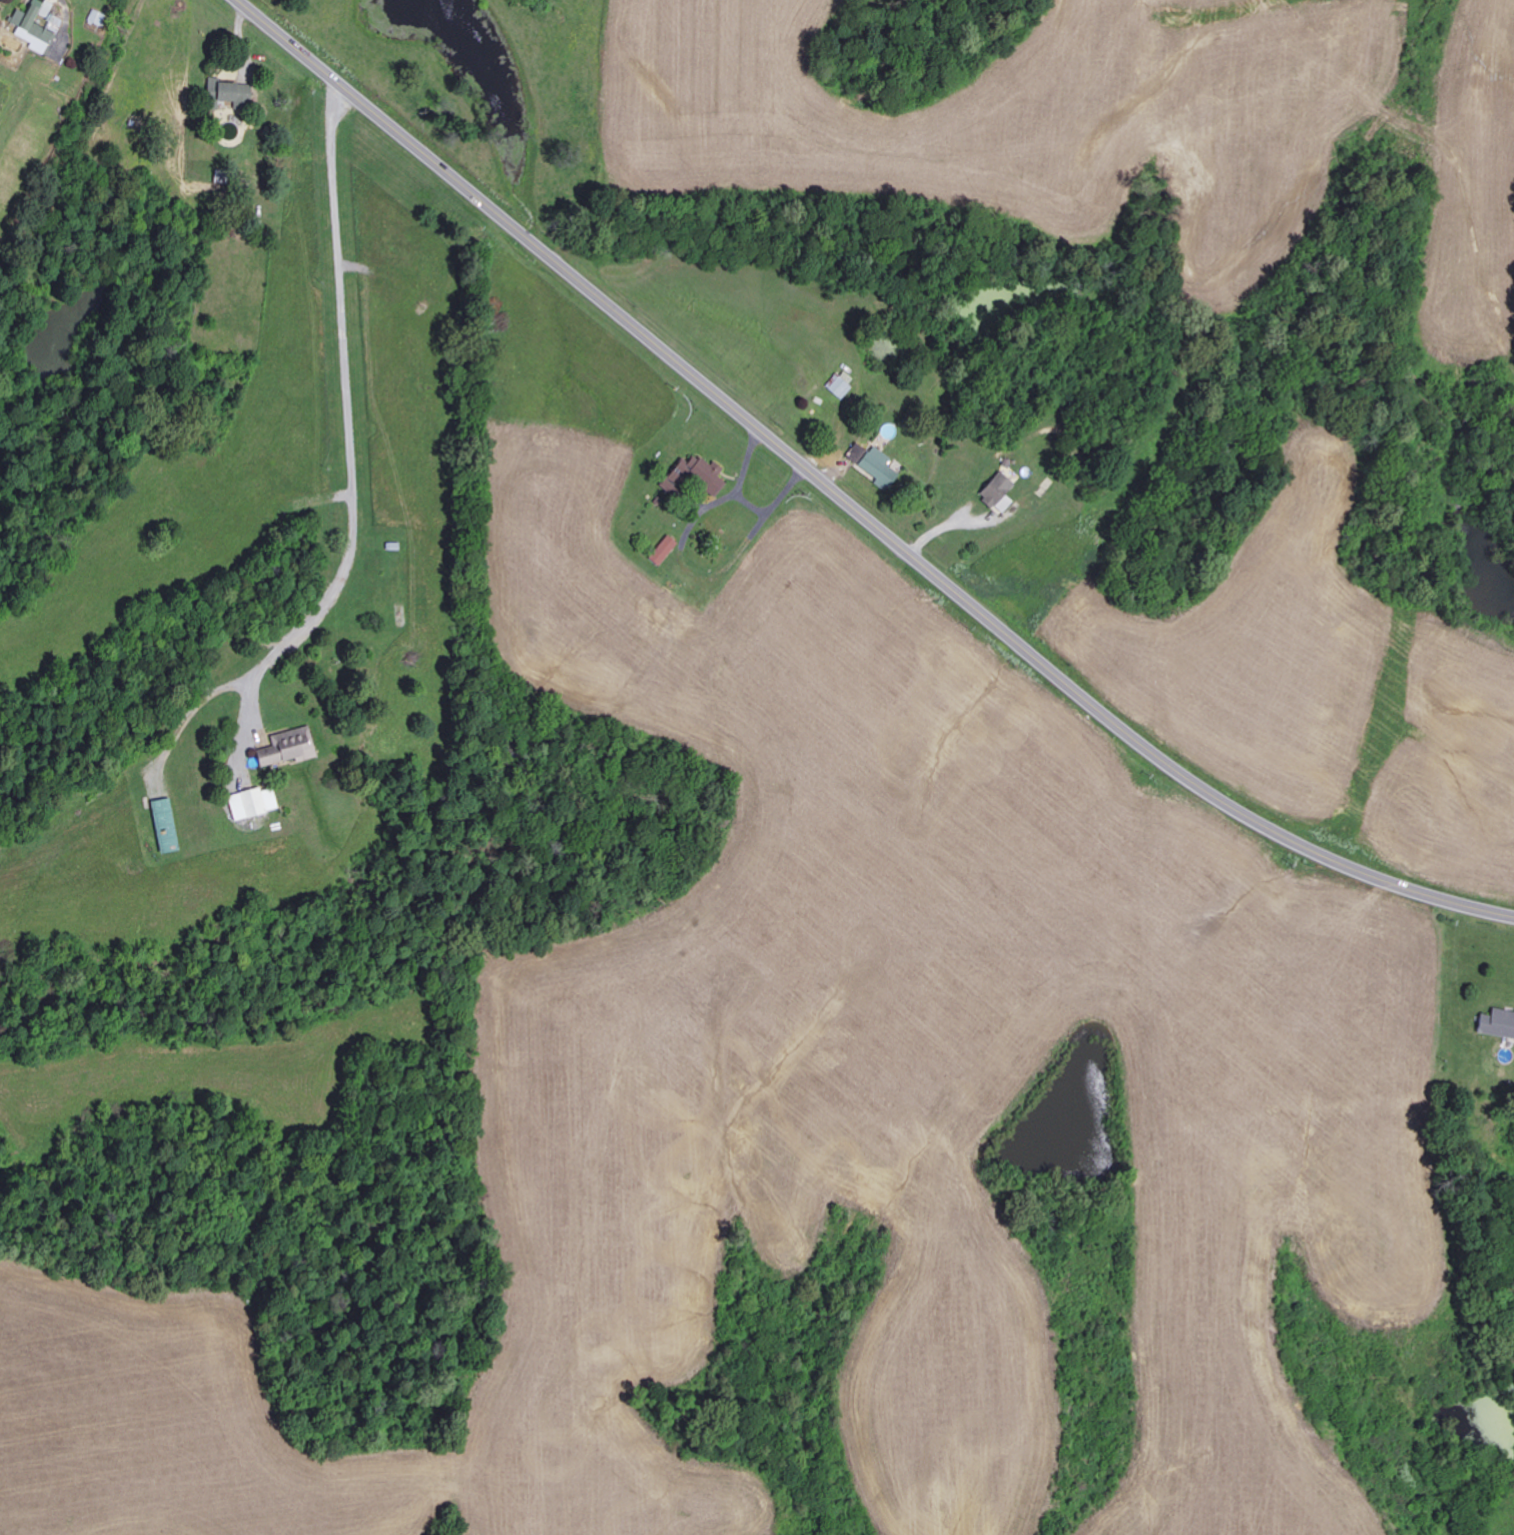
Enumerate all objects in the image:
building: (98, 18)
building: (39, 26)
building: (234, 93)
road: (145, 120)
building: (841, 387)
building: (859, 454)
building: (882, 469)
building: (692, 474)
building: (1001, 493)
road: (853, 501)
road: (455, 543)
building: (666, 551)
building: (290, 748)
building: (256, 804)
building: (168, 827)
building: (1499, 1025)

